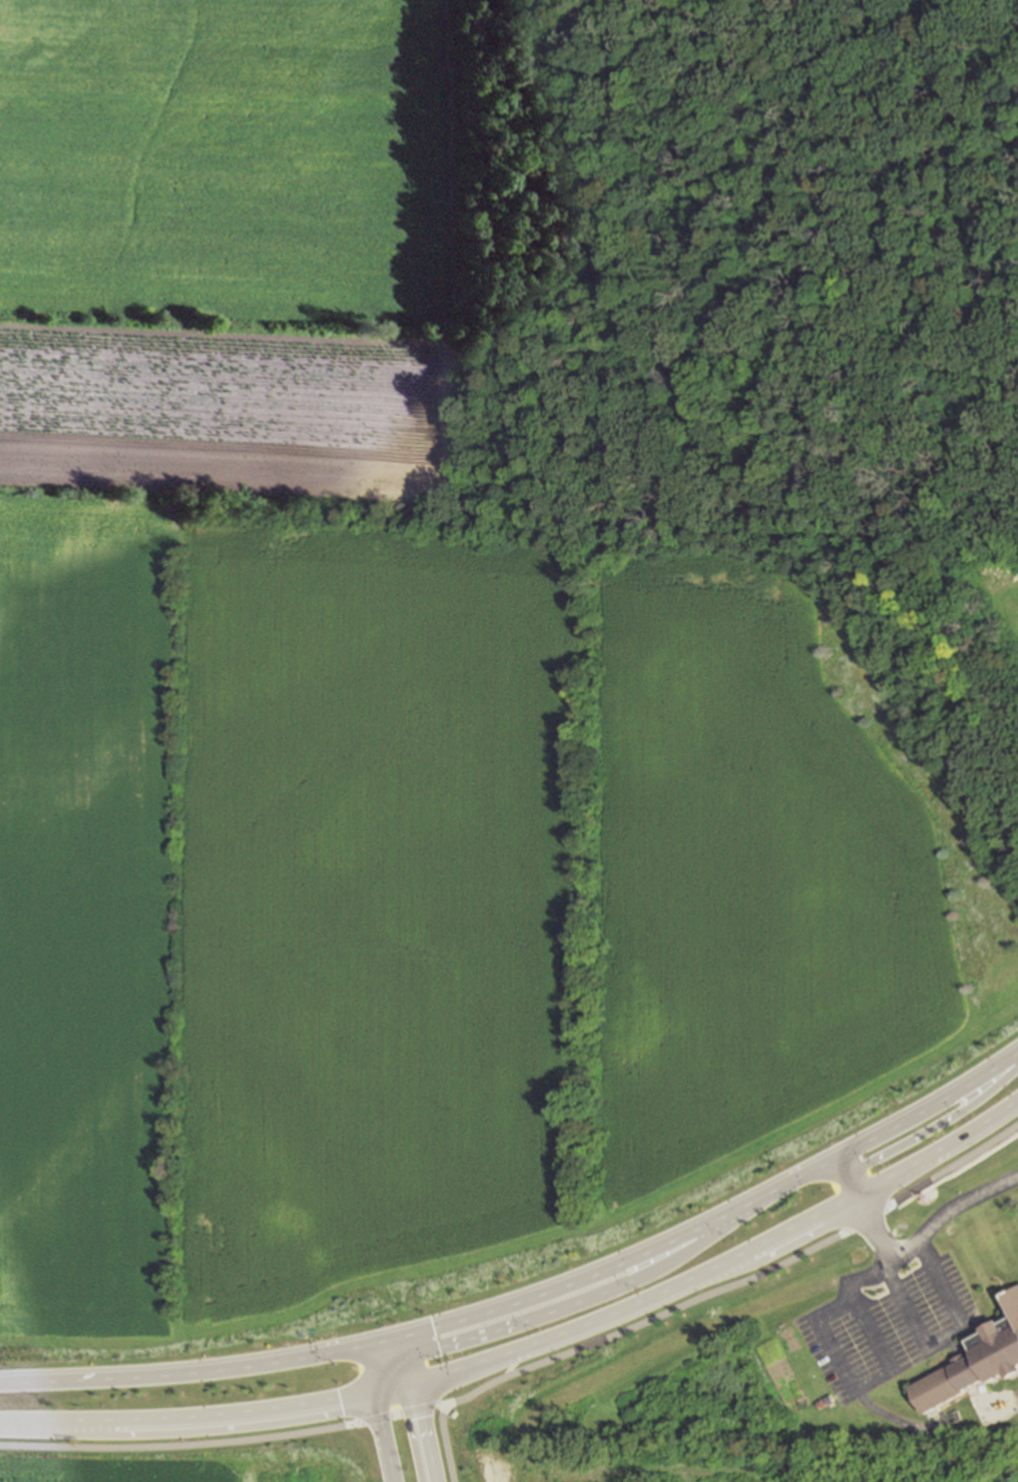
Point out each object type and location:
crop: (1000, 583)
crop: (383, 745)
road: (929, 1107)
road: (930, 1128)
road: (939, 1150)
road: (956, 1166)
road: (805, 1174)
road: (848, 1176)
road: (889, 1205)
road: (947, 1208)
road: (868, 1218)
road: (871, 1223)
road: (846, 1232)
building: (1014, 1294)
road: (577, 1303)
road: (639, 1303)
road: (515, 1304)
road: (646, 1322)
parking lot: (888, 1331)
road: (942, 1337)
traffic signals: (398, 1339)
road: (404, 1363)
traffic signals: (404, 1363)
building: (974, 1363)
road: (513, 1364)
road: (842, 1369)
road: (121, 1376)
traffic signals: (412, 1388)
traffic signals: (379, 1395)
road: (329, 1404)
road: (445, 1405)
road: (447, 1408)
road: (421, 1410)
road: (396, 1414)
road: (376, 1419)
road: (898, 1420)
road: (353, 1423)
road: (123, 1425)
road: (298, 1433)
road: (422, 1434)
road: (381, 1438)
road: (126, 1447)
road: (447, 1447)
park: (309, 1453)
crop: (121, 1459)
quarry: (700, 1473)

